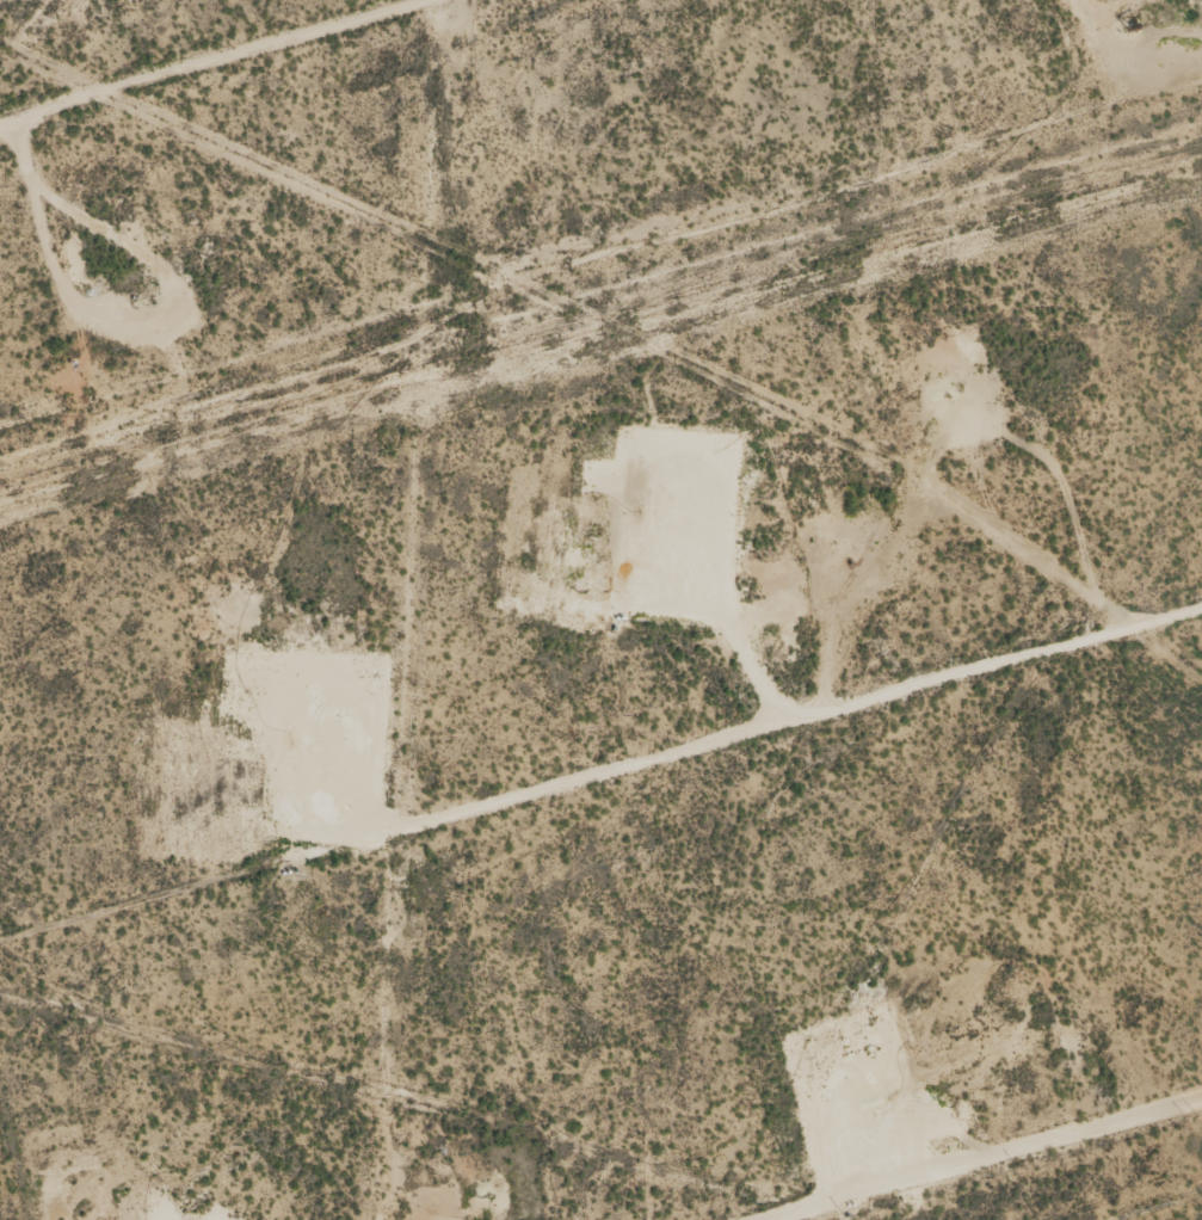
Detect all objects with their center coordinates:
road: (1182, 72)
road: (600, 827)
road: (1025, 1171)

